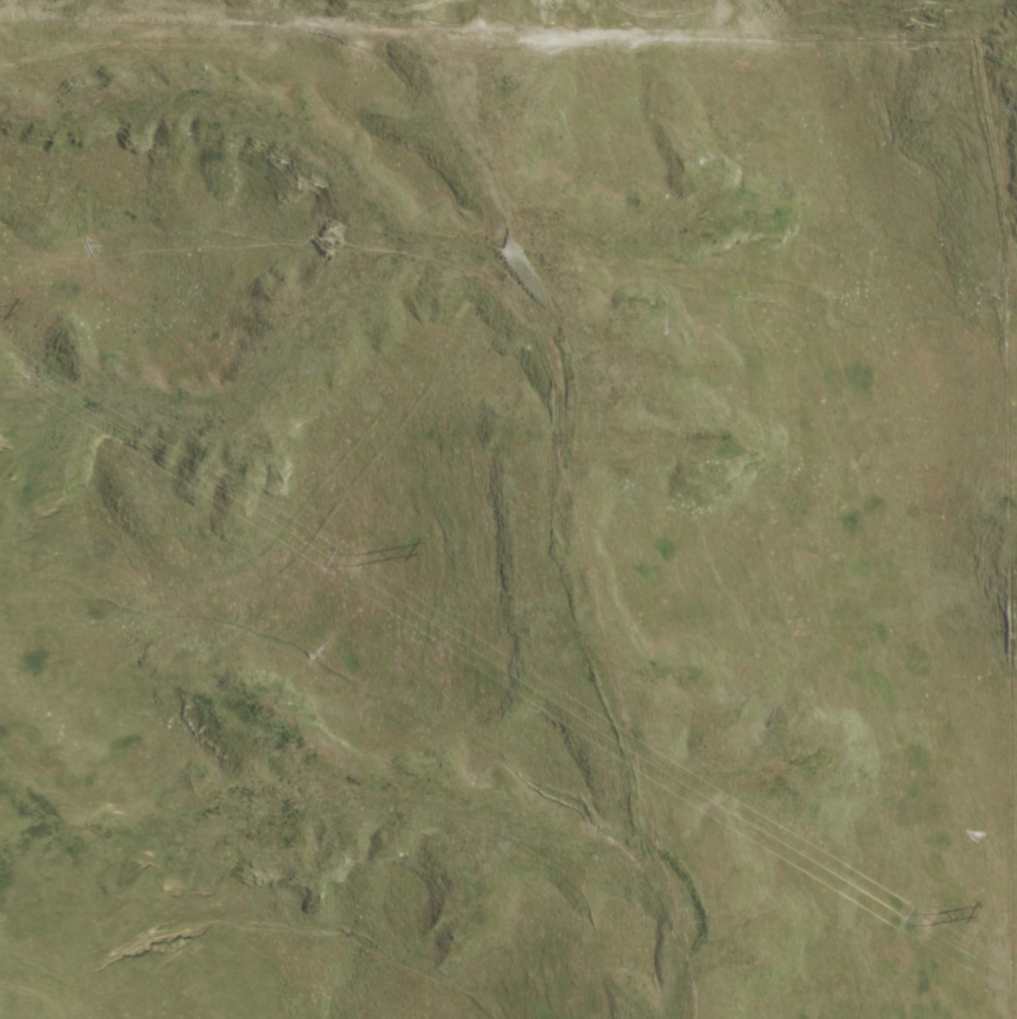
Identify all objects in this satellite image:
power tower: (355, 561)
power tower: (929, 919)

